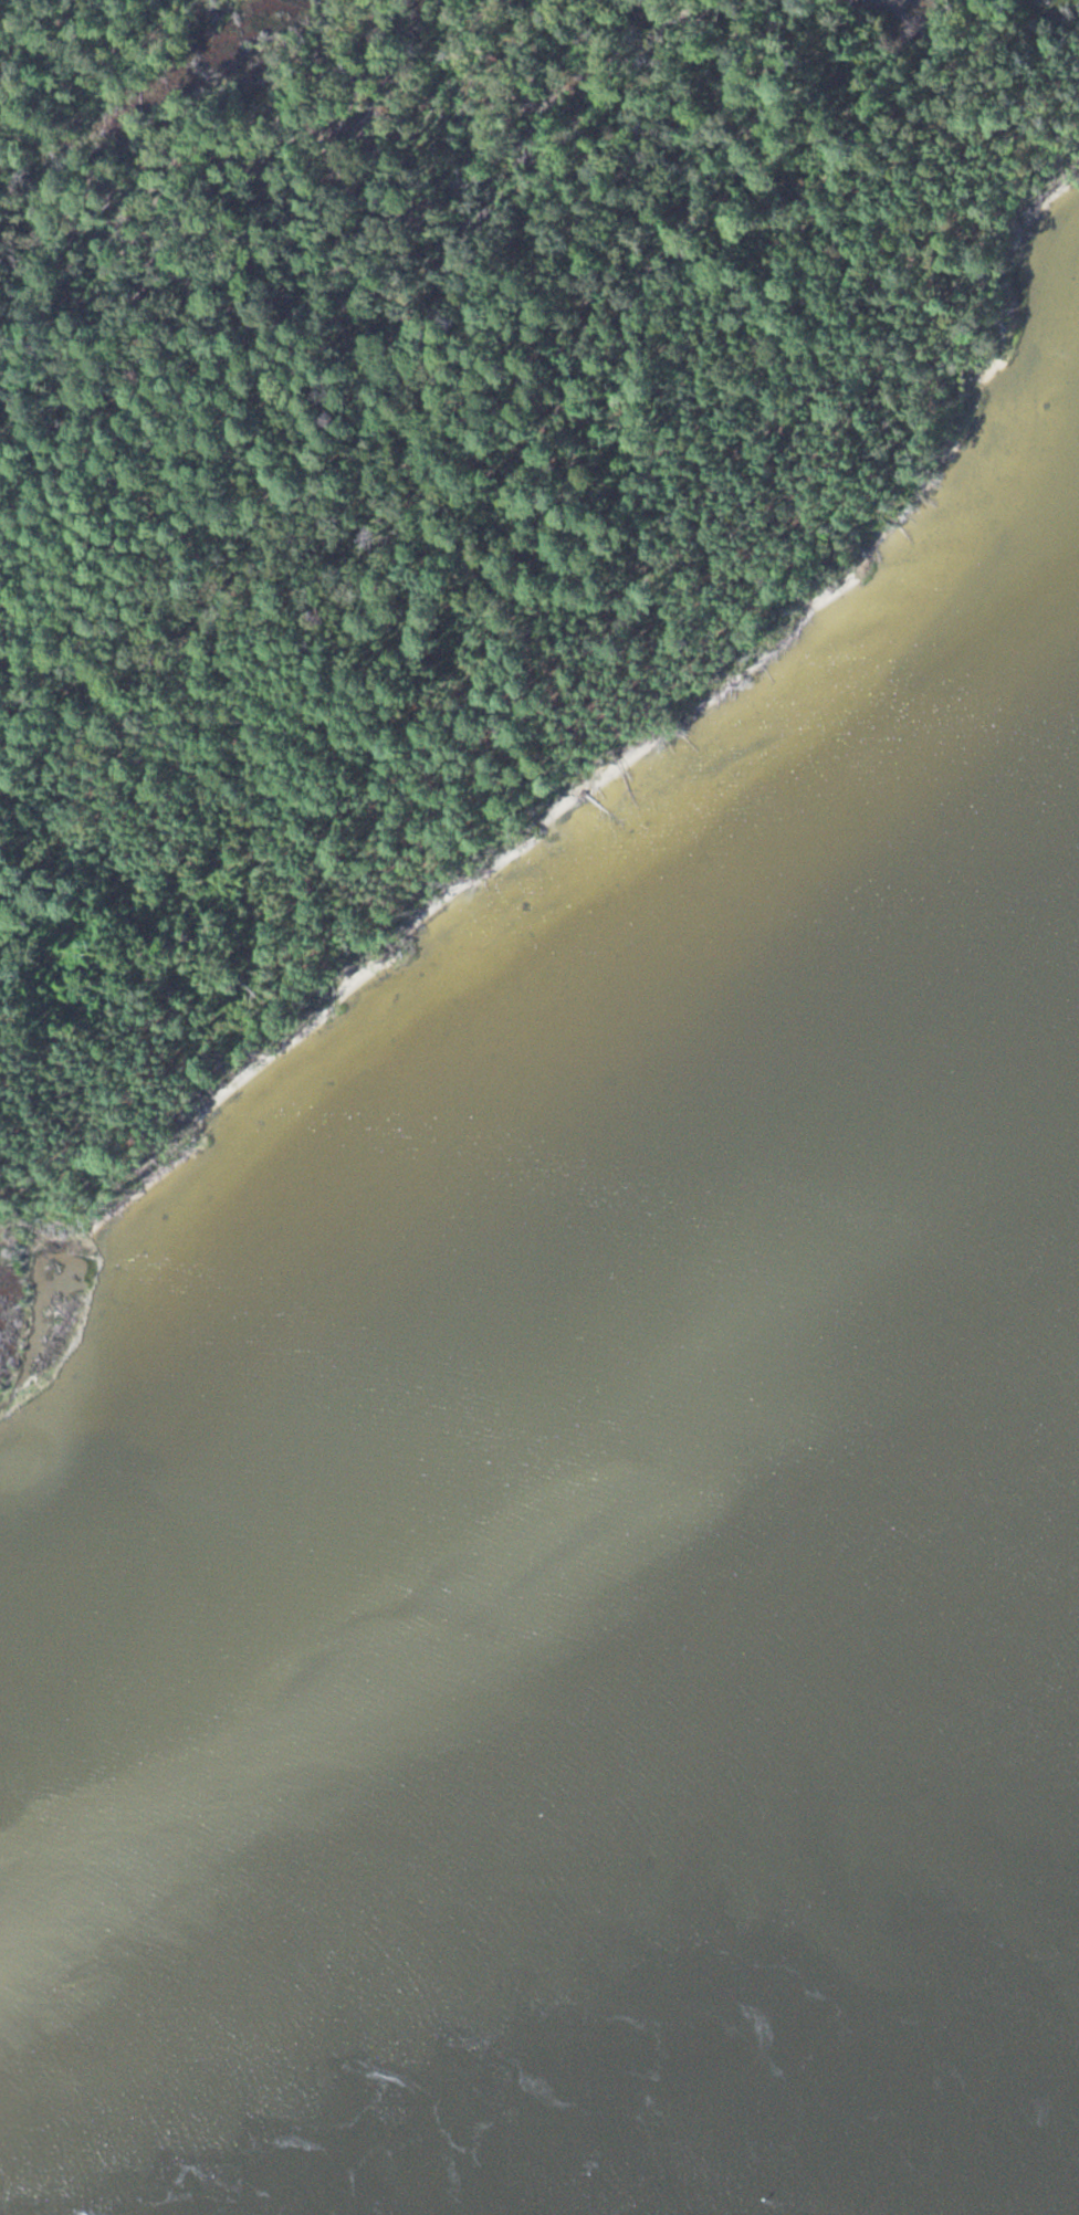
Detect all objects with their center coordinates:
river: (516, 1903)

